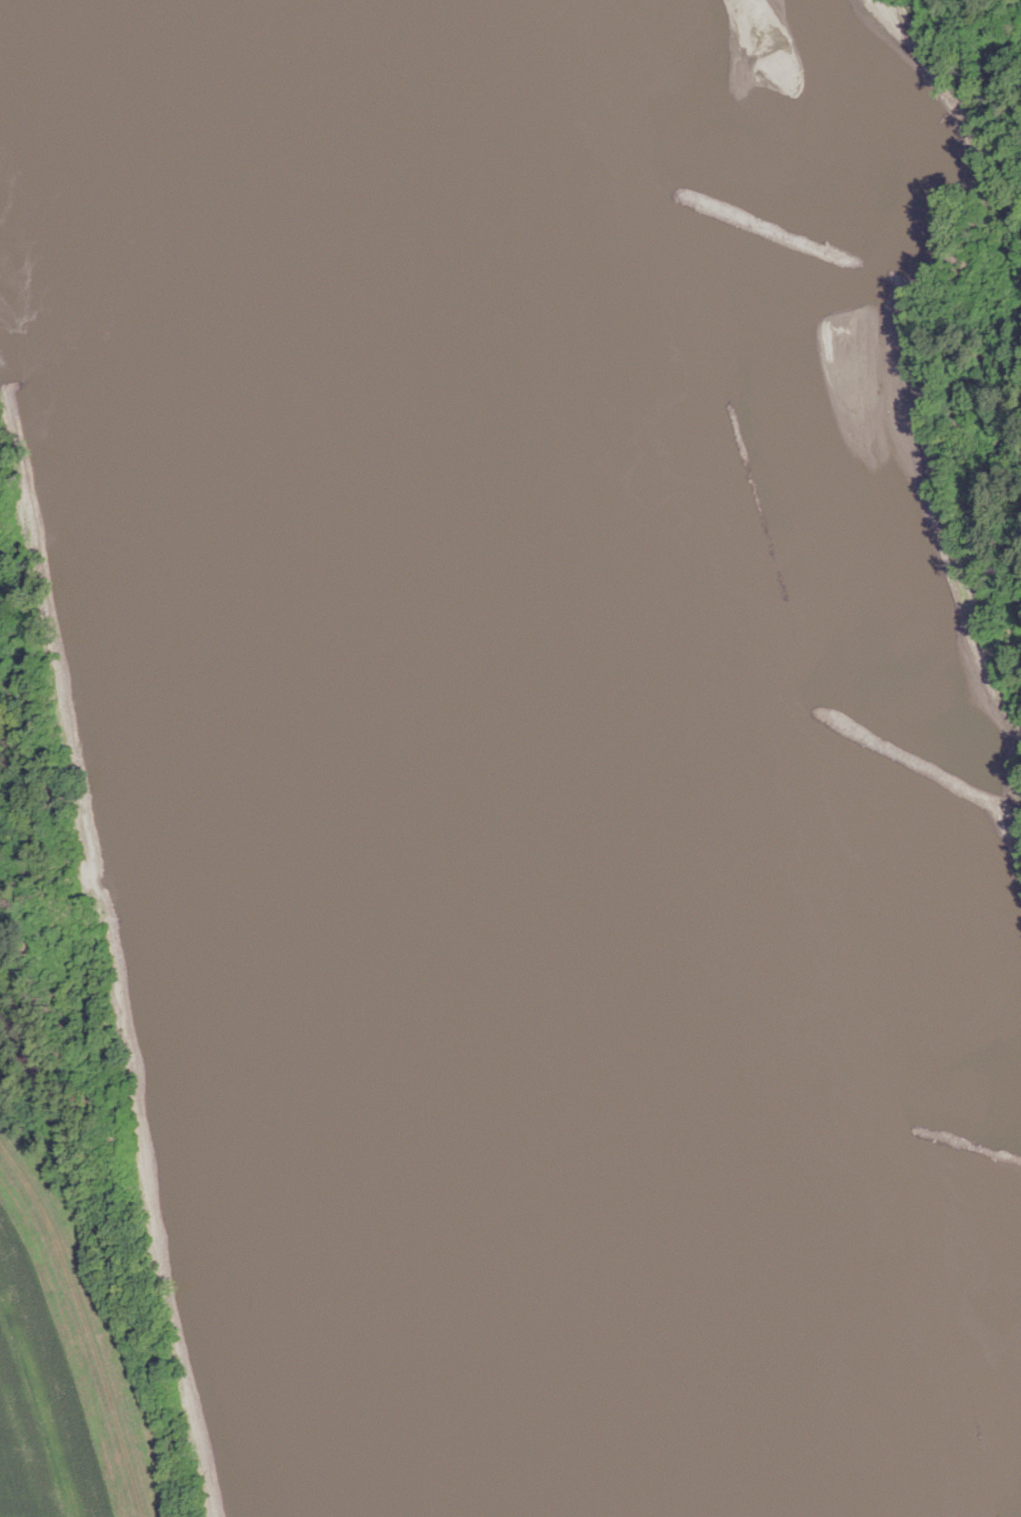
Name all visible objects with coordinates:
river: (595, 754)
road: (87, 1327)
crop: (39, 1402)

